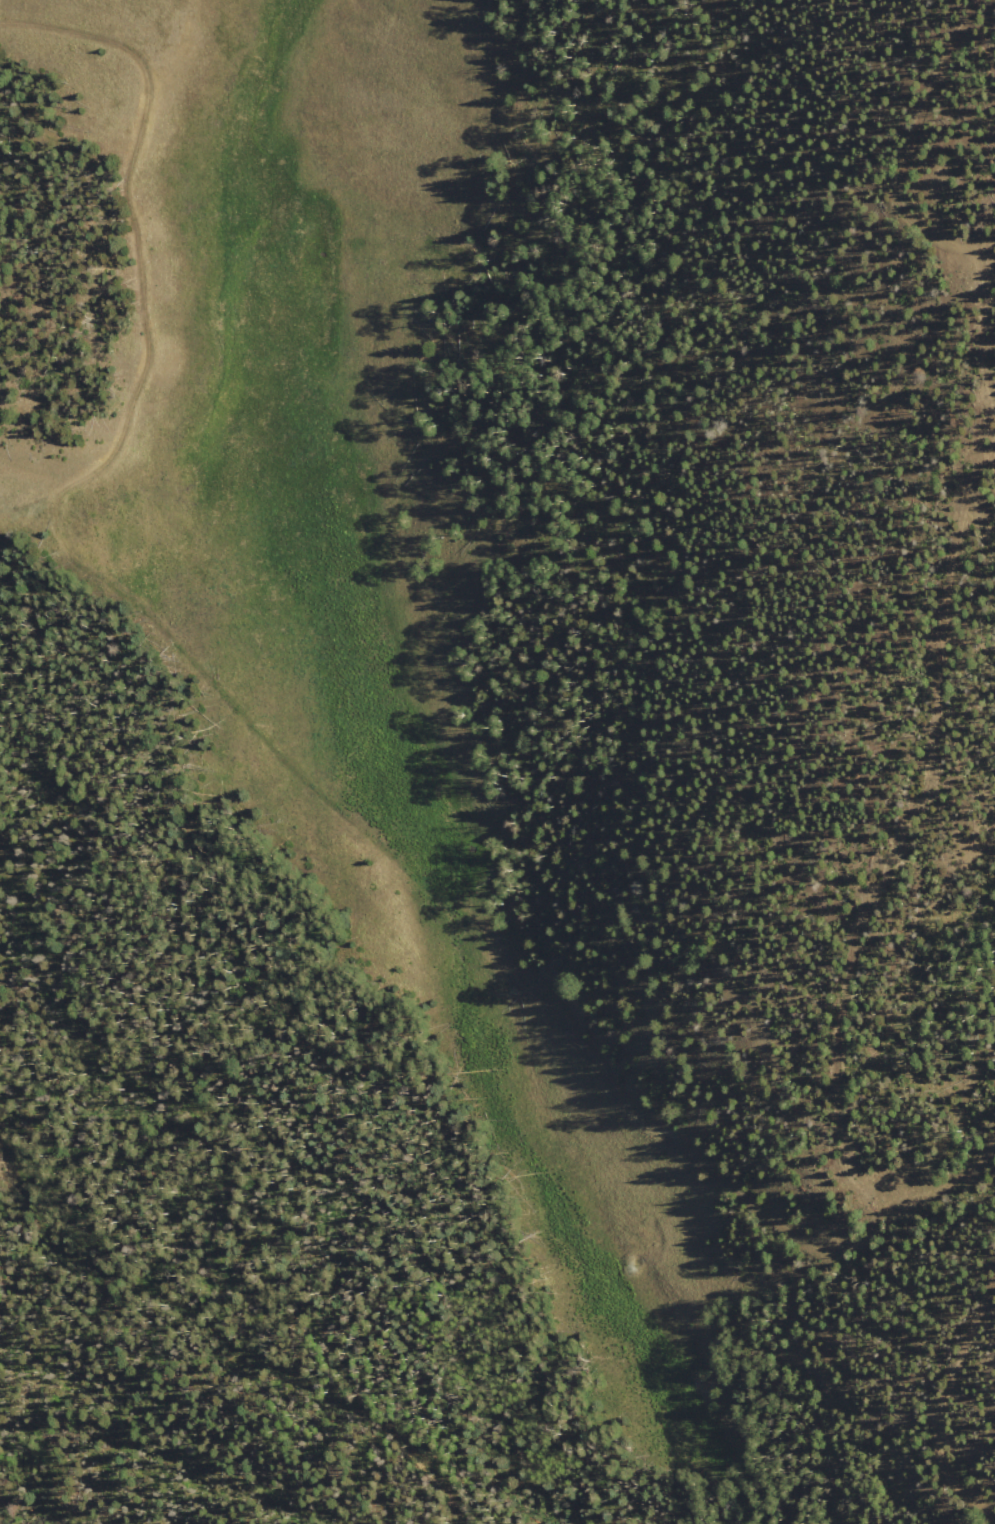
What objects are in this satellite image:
road: (204, 1303)
road: (985, 1476)

